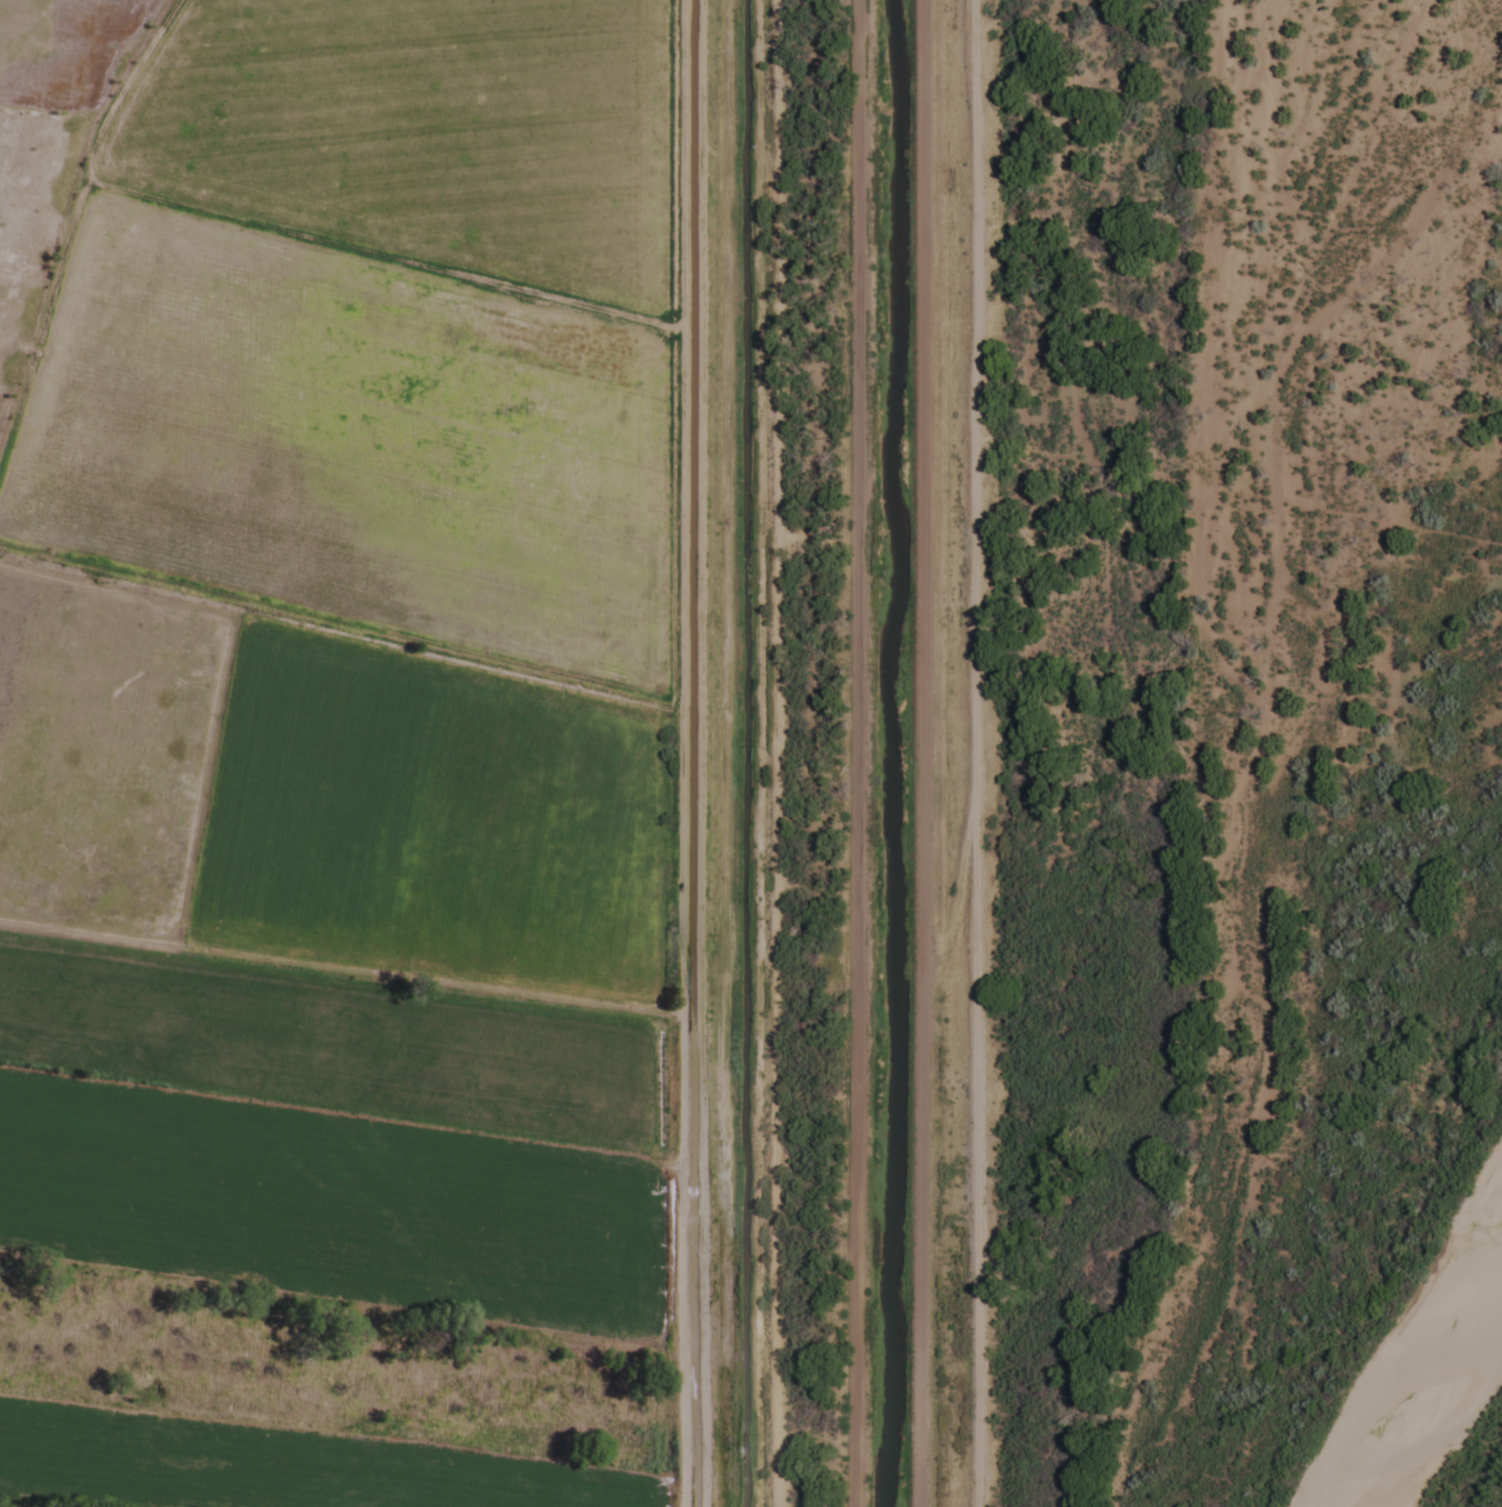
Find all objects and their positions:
road: (672, 753)
road: (858, 753)
road: (969, 753)
road: (336, 968)
river: (1436, 1381)

